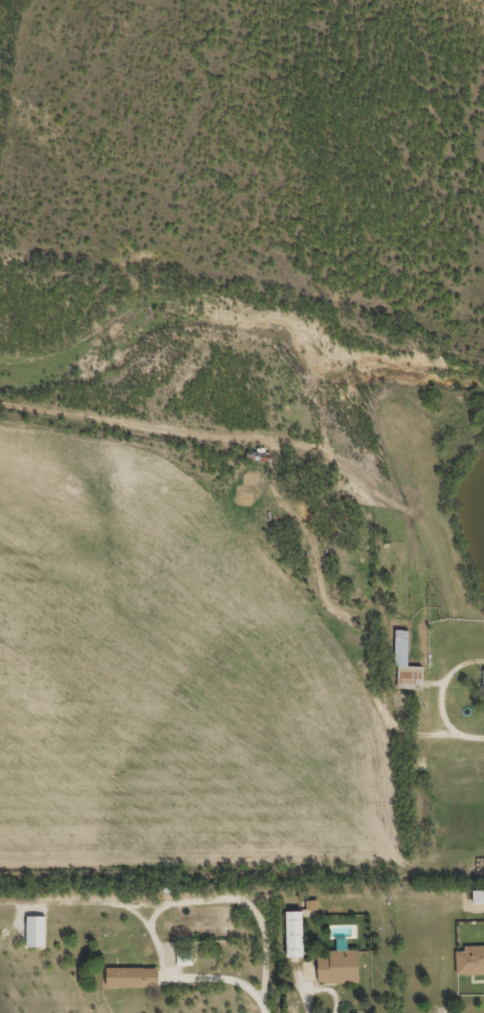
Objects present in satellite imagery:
building: (405, 663)
building: (483, 688)
building: (478, 895)
building: (311, 904)
road: (251, 910)
road: (138, 917)
building: (34, 930)
building: (294, 933)
building: (469, 959)
building: (338, 966)
road: (168, 973)
building: (131, 976)

